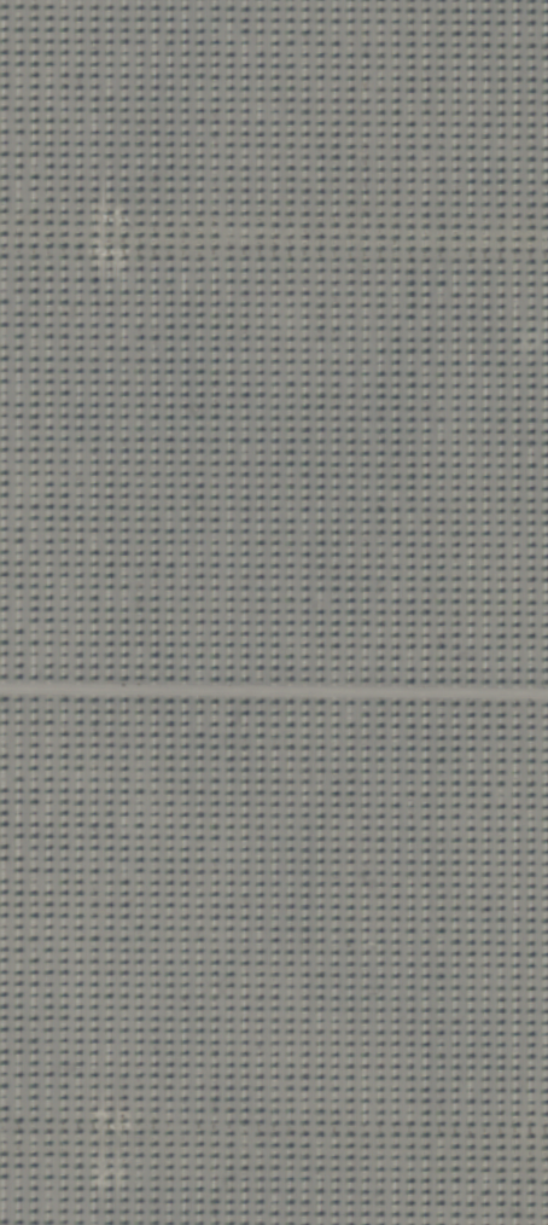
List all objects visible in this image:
crop: (274, 612)

